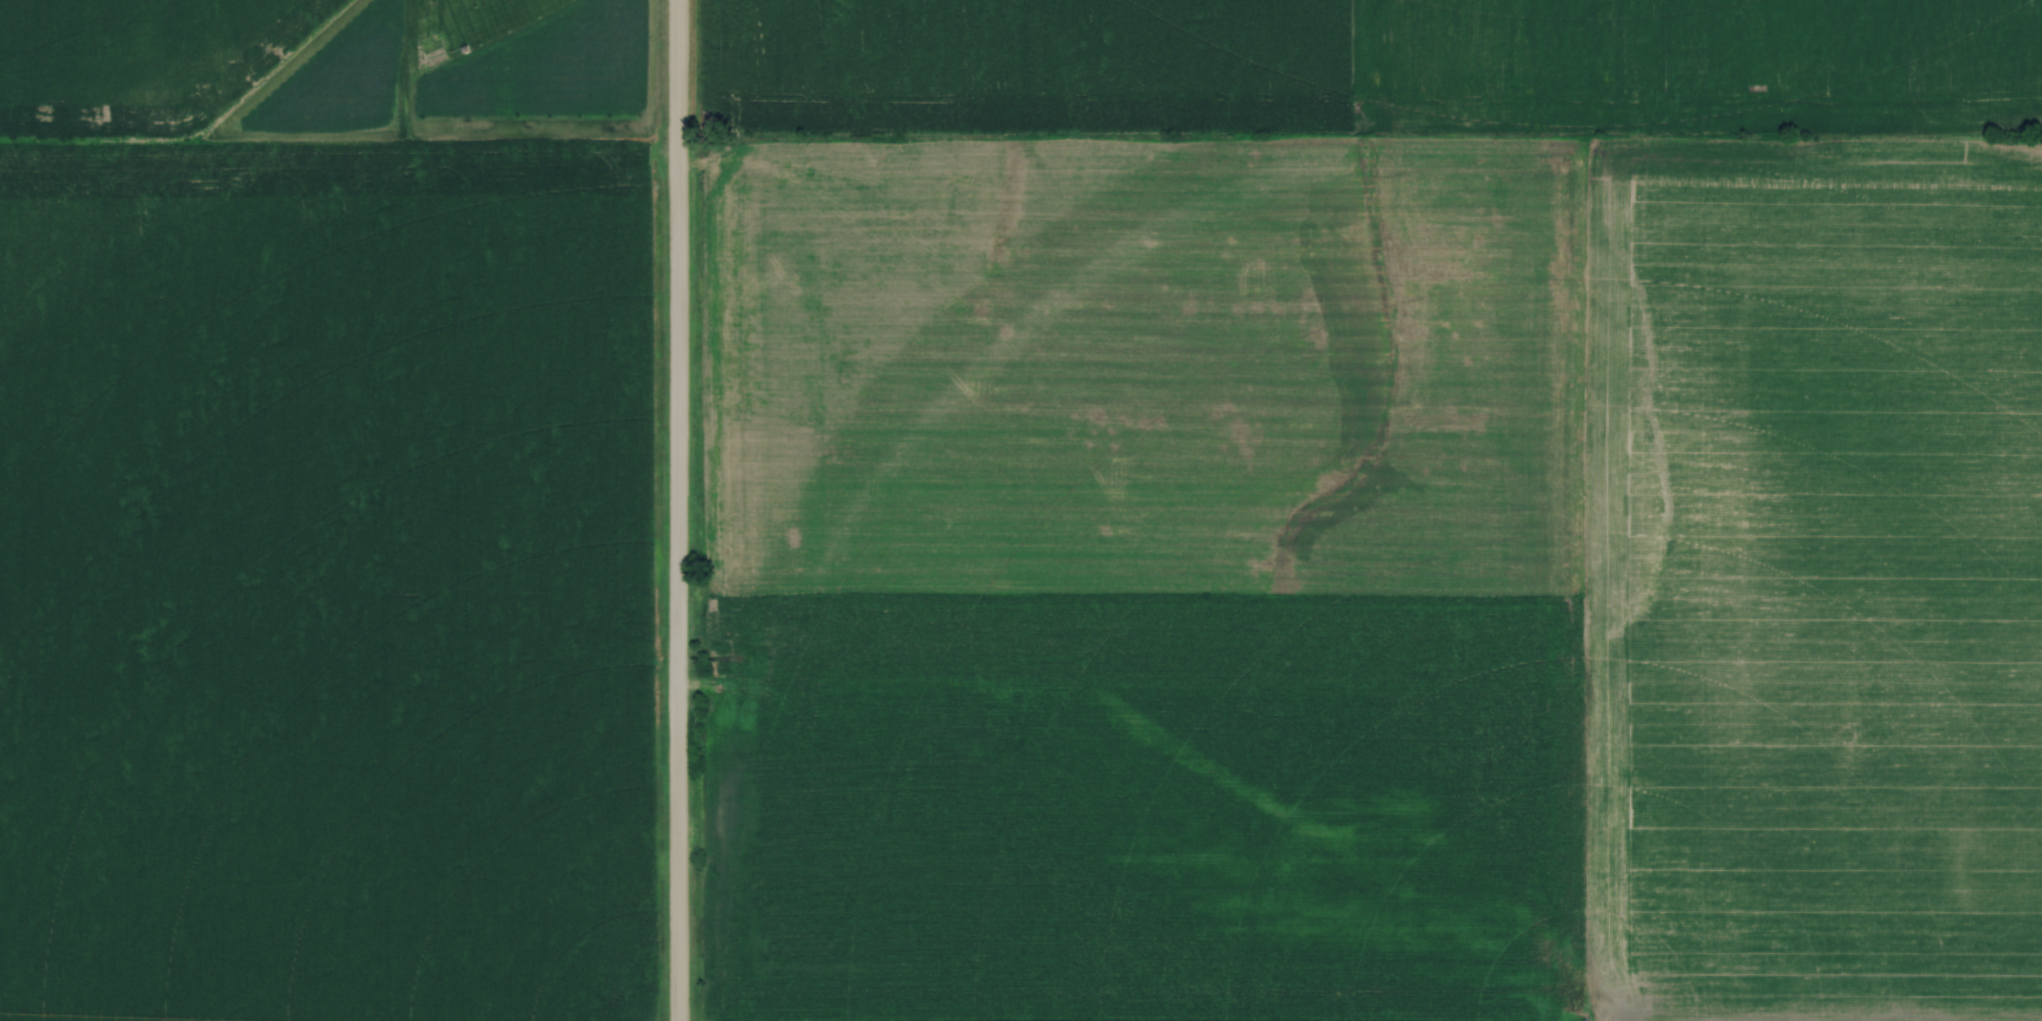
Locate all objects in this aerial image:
road: (673, 510)

